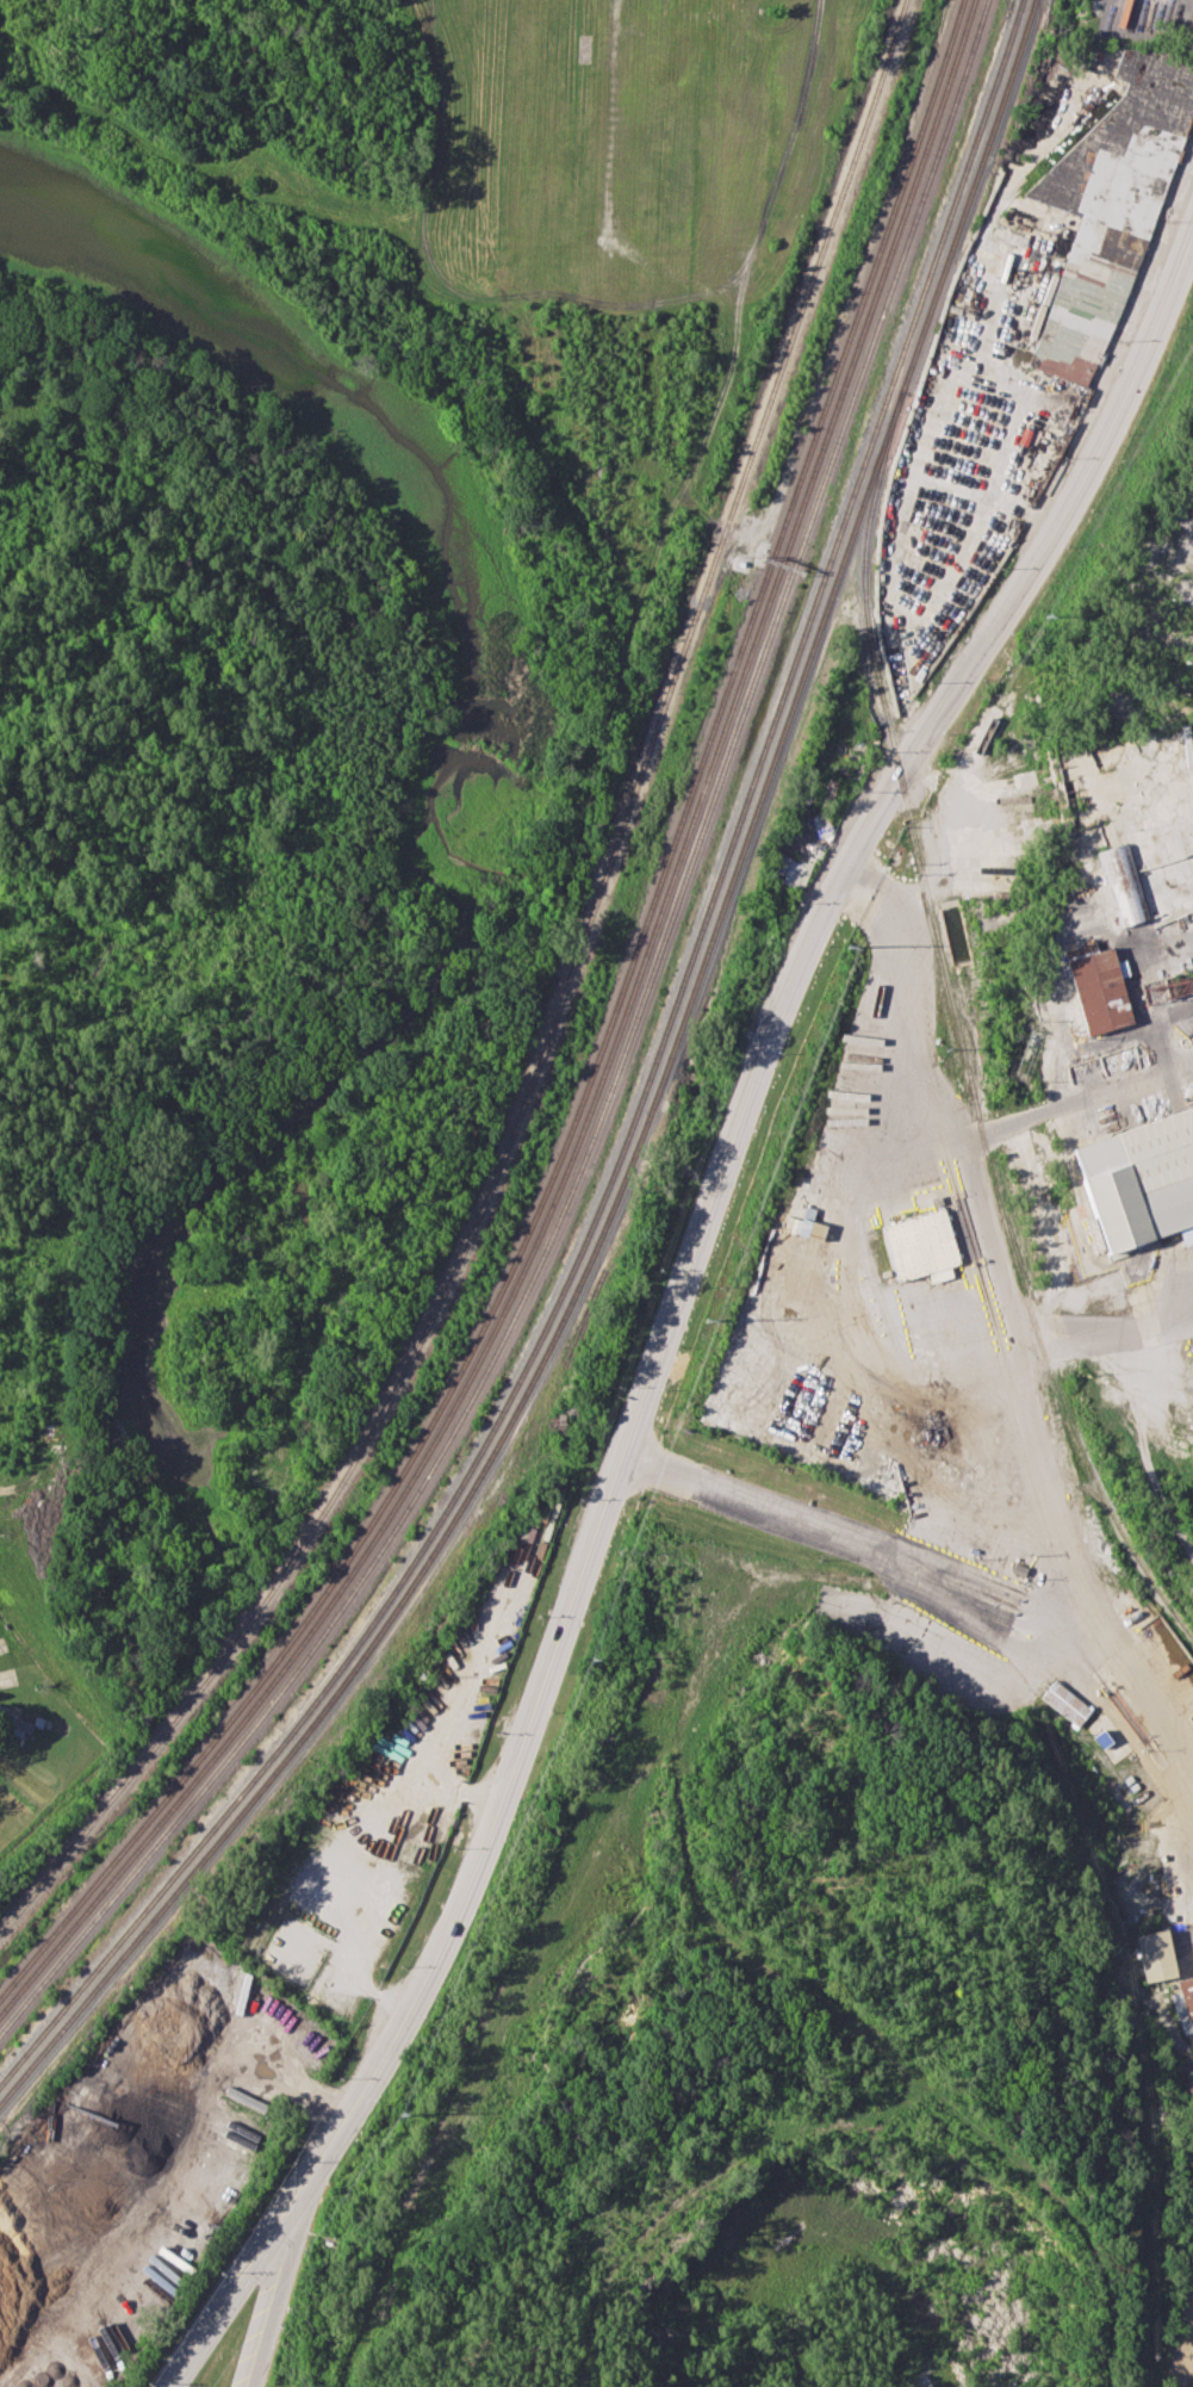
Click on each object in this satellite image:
building: (1108, 201)
power tower: (1046, 618)
building: (788, 869)
building: (1123, 883)
power tower: (847, 947)
building: (1099, 987)
railway: (554, 1018)
railway: (962, 1037)
railway: (967, 1037)
railway: (597, 1059)
railway: (605, 1068)
railway: (614, 1079)
road: (1077, 1102)
railway: (638, 1108)
railway: (647, 1118)
building: (1142, 1178)
building: (919, 1246)
road: (994, 1255)
road: (872, 1277)
road: (672, 1306)
power tower: (707, 1320)
road: (48, 1465)
road: (1051, 1502)
road: (942, 1581)
power tower: (591, 1660)
building: (1065, 1701)
building: (15, 1720)
road: (359, 1855)
building: (1155, 1954)
building: (1185, 2008)
building: (1189, 2091)
power tower: (398, 2108)
road: (142, 2160)
road: (276, 2282)

